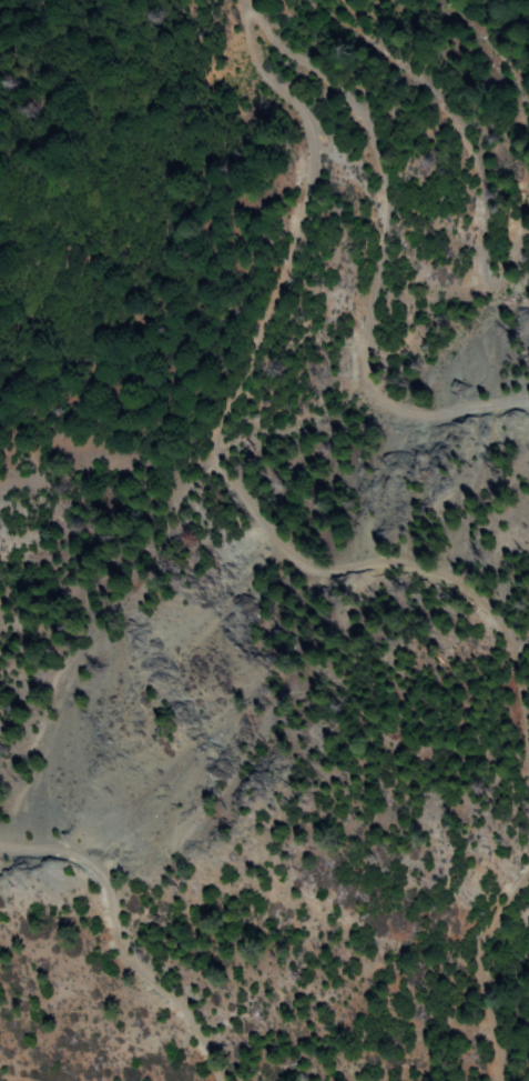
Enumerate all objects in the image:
road: (245, 2)
road: (377, 257)
road: (216, 459)
road: (116, 940)
road: (476, 967)

